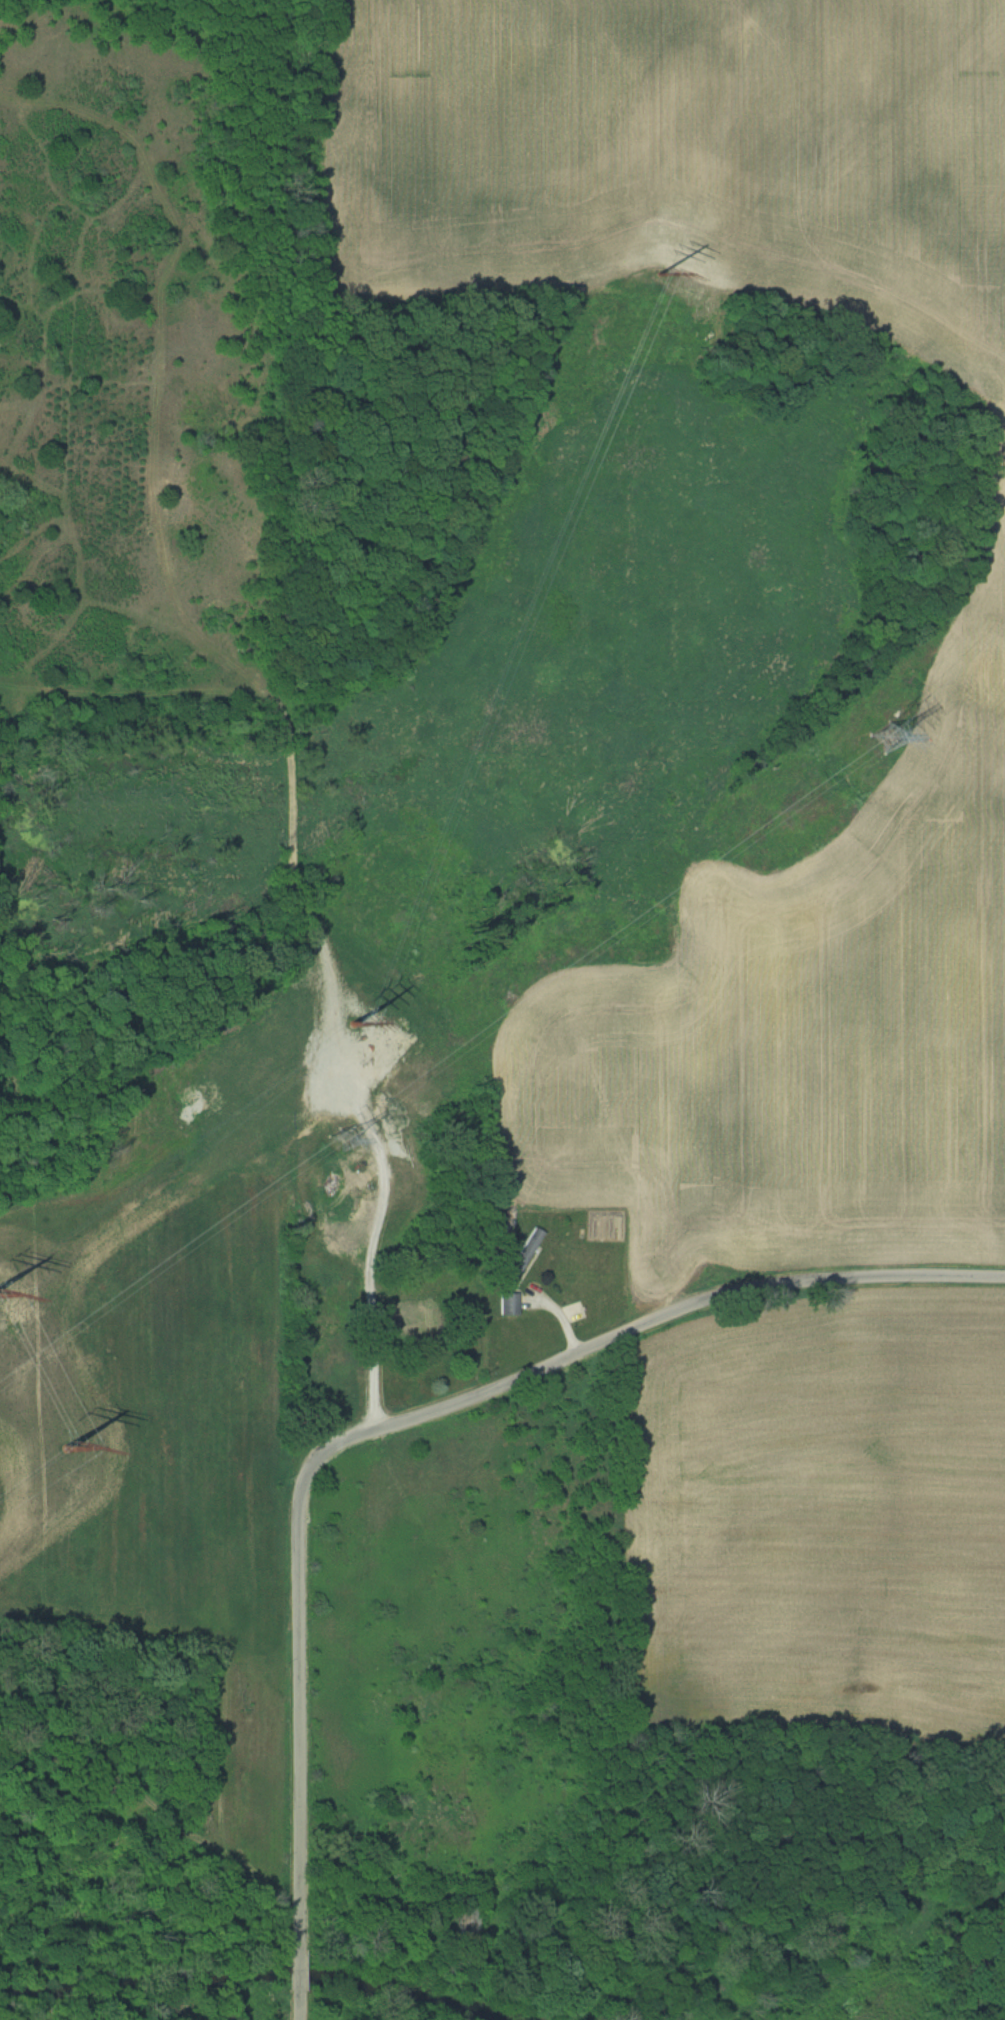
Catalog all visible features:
power tower: (658, 267)
power tower: (886, 738)
power tower: (349, 1016)
power tower: (340, 1141)
road: (381, 1192)
building: (524, 1252)
road: (876, 1275)
building: (507, 1303)
power tower: (78, 1449)
road: (301, 1505)

